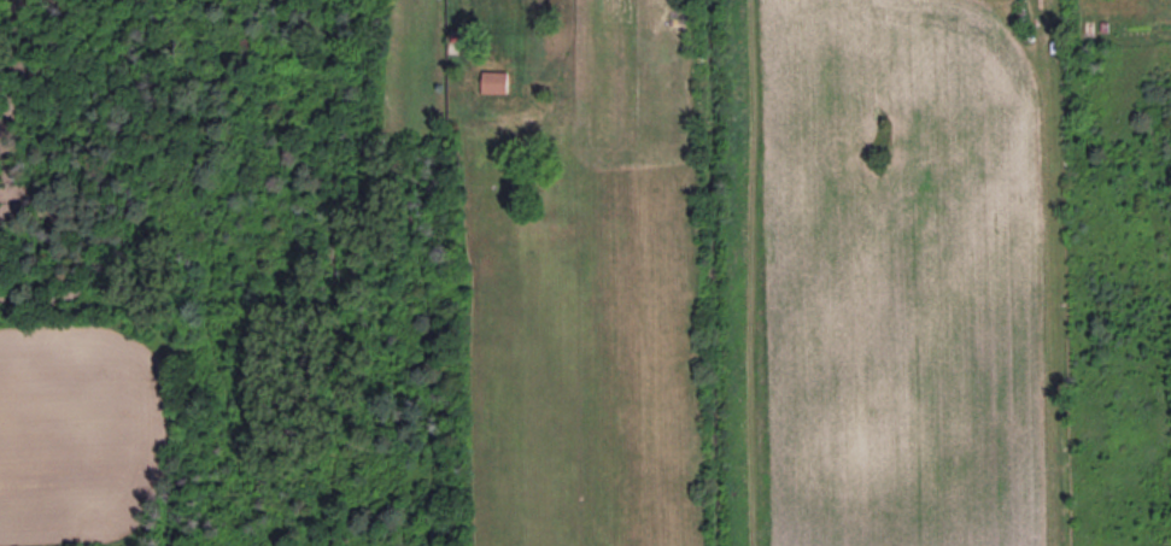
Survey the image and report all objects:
building: (493, 82)

